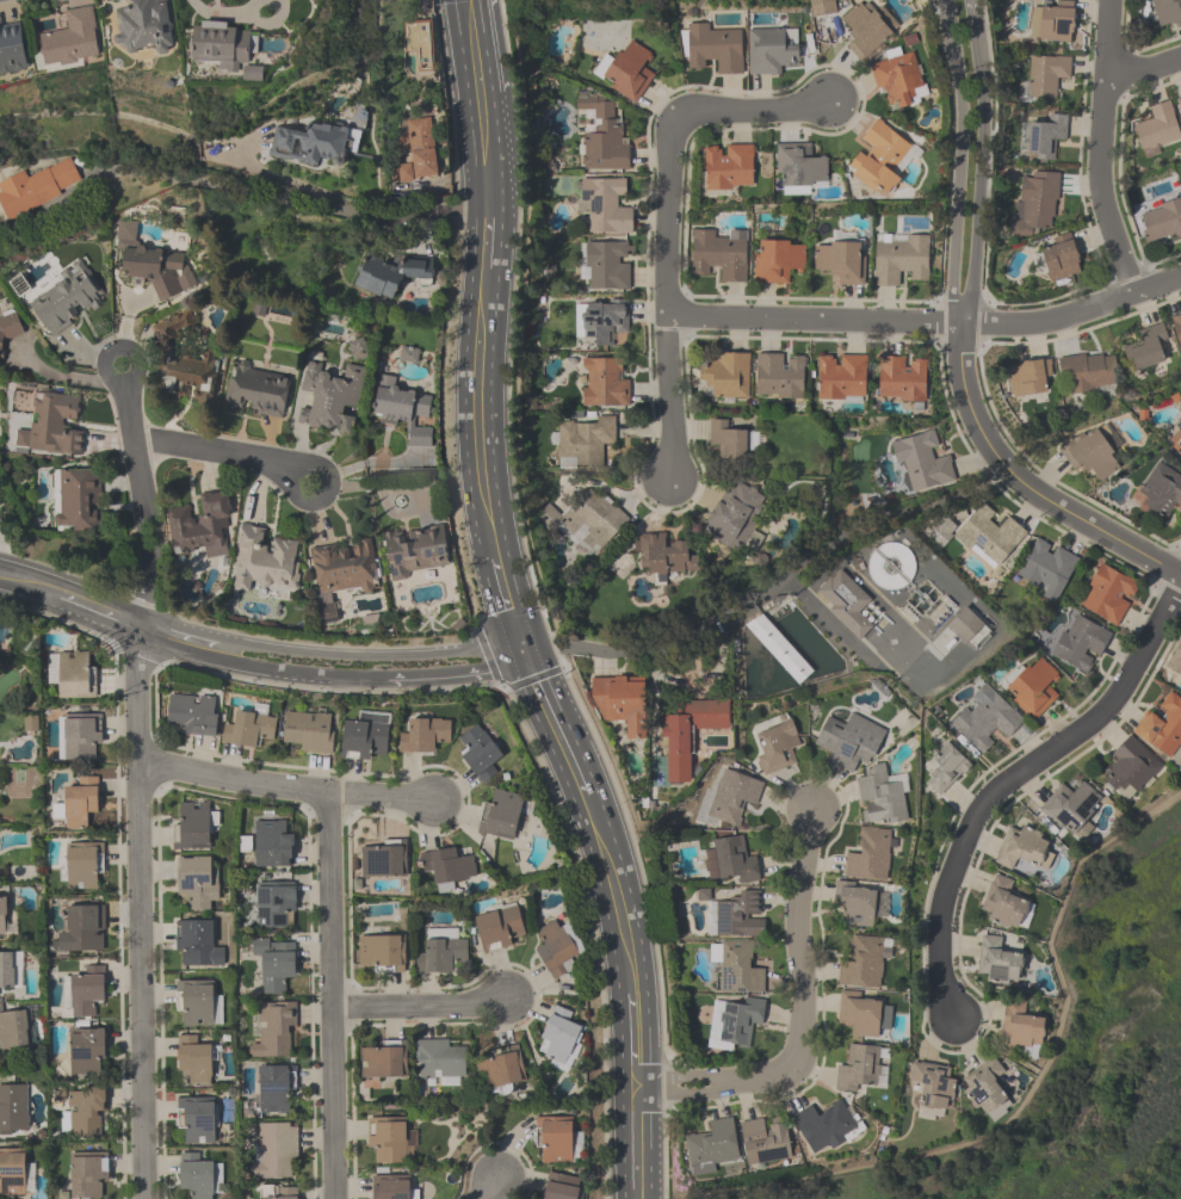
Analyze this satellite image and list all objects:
road: (972, 7)
building: (1164, 12)
road: (947, 20)
building: (1052, 24)
building: (144, 27)
building: (868, 30)
building: (72, 41)
building: (224, 48)
road: (471, 49)
building: (713, 49)
building: (12, 50)
building: (771, 50)
road: (1144, 68)
building: (630, 72)
building: (1045, 78)
building: (899, 81)
building: (1177, 105)
road: (752, 110)
building: (1158, 128)
building: (601, 132)
building: (1043, 138)
building: (315, 143)
road: (1100, 149)
road: (486, 150)
building: (419, 152)
building: (882, 157)
building: (799, 167)
building: (729, 168)
road: (981, 172)
road: (959, 185)
building: (36, 190)
road: (292, 198)
building: (1035, 205)
building: (606, 208)
building: (1162, 222)
road: (486, 239)
building: (718, 255)
building: (901, 259)
building: (778, 260)
building: (841, 260)
building: (1061, 260)
building: (605, 265)
building: (154, 266)
building: (391, 273)
road: (670, 297)
building: (67, 301)
building: (602, 321)
road: (512, 322)
road: (929, 328)
building: (10, 329)
building: (1176, 329)
building: (1148, 348)
building: (183, 361)
road: (100, 364)
building: (1088, 372)
building: (780, 376)
building: (725, 377)
building: (842, 377)
building: (902, 379)
building: (1026, 382)
building: (605, 383)
building: (258, 390)
building: (332, 397)
building: (404, 412)
road: (476, 416)
building: (52, 426)
building: (583, 443)
building: (731, 443)
road: (214, 450)
building: (1176, 451)
building: (1094, 455)
building: (923, 464)
road: (290, 486)
road: (1026, 488)
building: (1161, 496)
building: (78, 500)
road: (142, 506)
road: (896, 514)
building: (737, 517)
building: (587, 523)
building: (199, 527)
building: (990, 539)
road: (0, 545)
building: (416, 551)
building: (666, 556)
building: (265, 561)
building: (1047, 570)
building: (342, 573)
road: (33, 587)
building: (1108, 597)
building: (846, 602)
road: (508, 605)
road: (104, 613)
road: (831, 623)
road: (174, 639)
road: (558, 645)
building: (1081, 645)
road: (664, 648)
road: (491, 650)
traffic signals: (523, 651)
road: (335, 656)
road: (487, 656)
building: (1175, 660)
road: (604, 663)
building: (73, 674)
road: (296, 674)
road: (458, 675)
road: (538, 678)
building: (1034, 688)
building: (622, 705)
building: (193, 715)
road: (563, 716)
road: (654, 718)
building: (987, 719)
building: (1163, 725)
road: (539, 727)
building: (249, 728)
building: (310, 733)
building: (690, 735)
building: (425, 736)
building: (81, 737)
building: (365, 737)
road: (530, 738)
building: (849, 742)
building: (778, 748)
building: (480, 754)
building: (1131, 767)
building: (946, 770)
road: (1010, 778)
road: (284, 787)
building: (883, 797)
building: (730, 799)
building: (81, 803)
building: (1072, 810)
building: (506, 815)
building: (192, 826)
building: (272, 845)
building: (1024, 847)
road: (636, 851)
building: (871, 857)
building: (384, 859)
building: (734, 861)
building: (81, 865)
building: (447, 867)
building: (199, 882)
road: (604, 900)
building: (860, 904)
building: (1004, 904)
building: (276, 906)
road: (140, 914)
building: (737, 916)
building: (5, 919)
building: (499, 927)
building: (82, 931)
road: (796, 938)
road: (641, 939)
building: (196, 942)
building: (557, 947)
building: (441, 952)
building: (383, 953)
building: (1001, 962)
building: (276, 963)
building: (865, 964)
building: (737, 968)
building: (10, 971)
building: (85, 991)
road: (332, 994)
building: (198, 1003)
road: (418, 1005)
building: (860, 1014)
building: (736, 1021)
building: (1021, 1028)
building: (13, 1031)
building: (276, 1031)
road: (622, 1032)
building: (562, 1037)
building: (87, 1052)
building: (194, 1061)
building: (440, 1062)
building: (382, 1063)
building: (862, 1069)
building: (500, 1071)
road: (769, 1074)
road: (675, 1077)
road: (669, 1082)
building: (933, 1084)
road: (623, 1088)
building: (984, 1090)
road: (679, 1092)
building: (273, 1093)
road: (1028, 1098)
building: (13, 1111)
building: (86, 1113)
road: (649, 1117)
building: (198, 1120)
building: (824, 1126)
building: (388, 1139)
building: (555, 1139)
building: (765, 1141)
building: (711, 1147)
road: (664, 1149)
building: (274, 1150)
road: (625, 1156)
road: (650, 1167)
building: (14, 1173)
building: (199, 1175)
building: (88, 1176)
building: (391, 1187)
building: (561, 1187)
road: (490, 1188)
building: (282, 1193)

